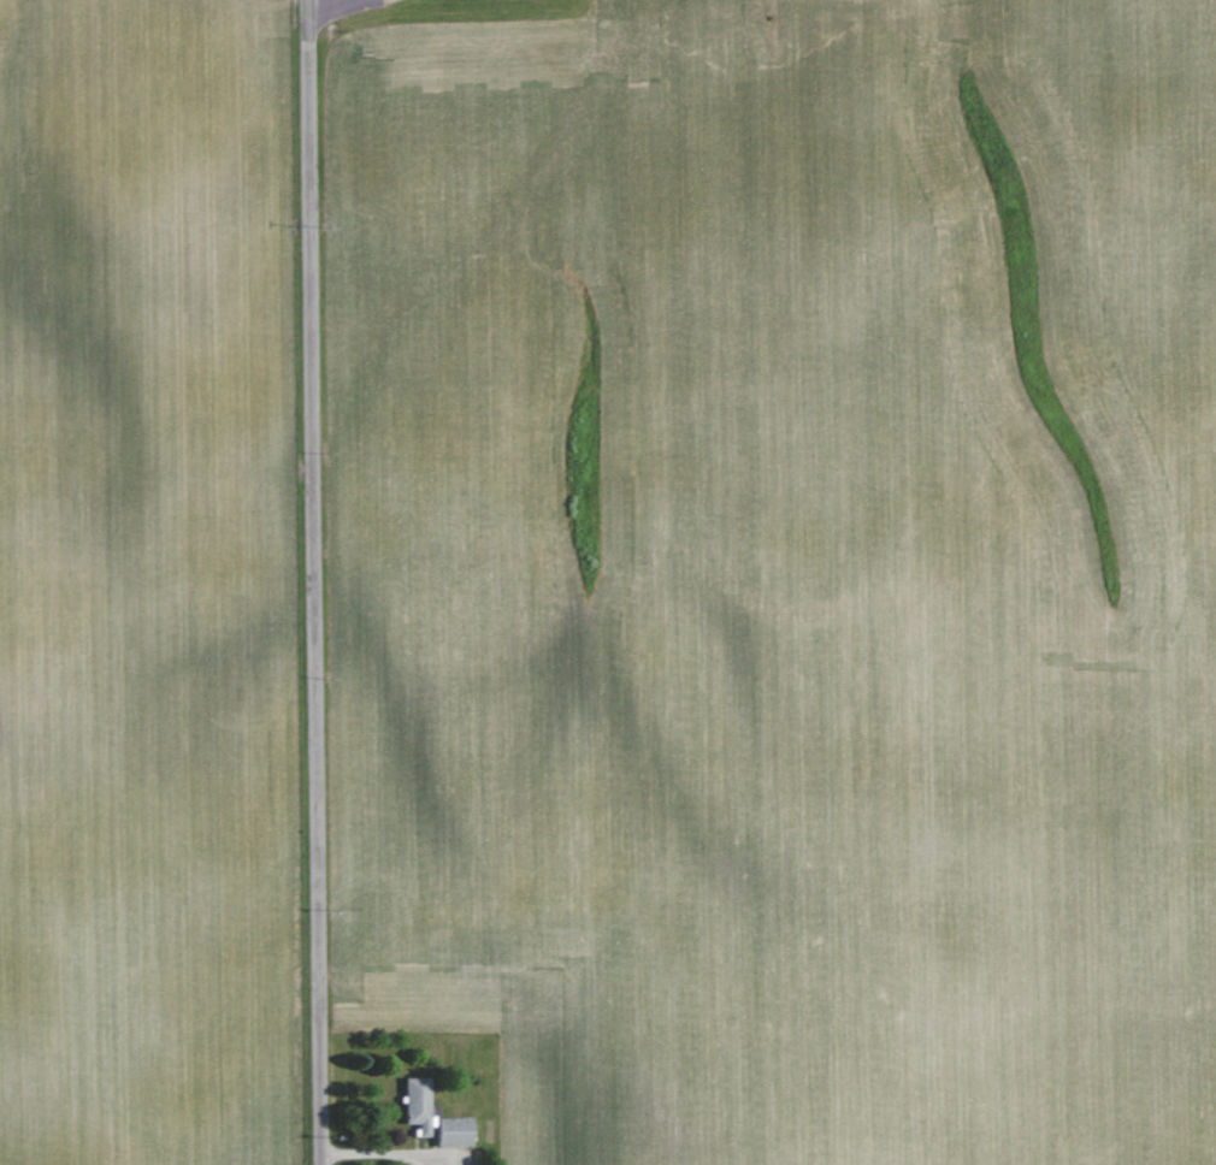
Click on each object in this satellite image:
road: (323, 1)
road: (313, 581)
building: (415, 1102)
building: (450, 1130)

